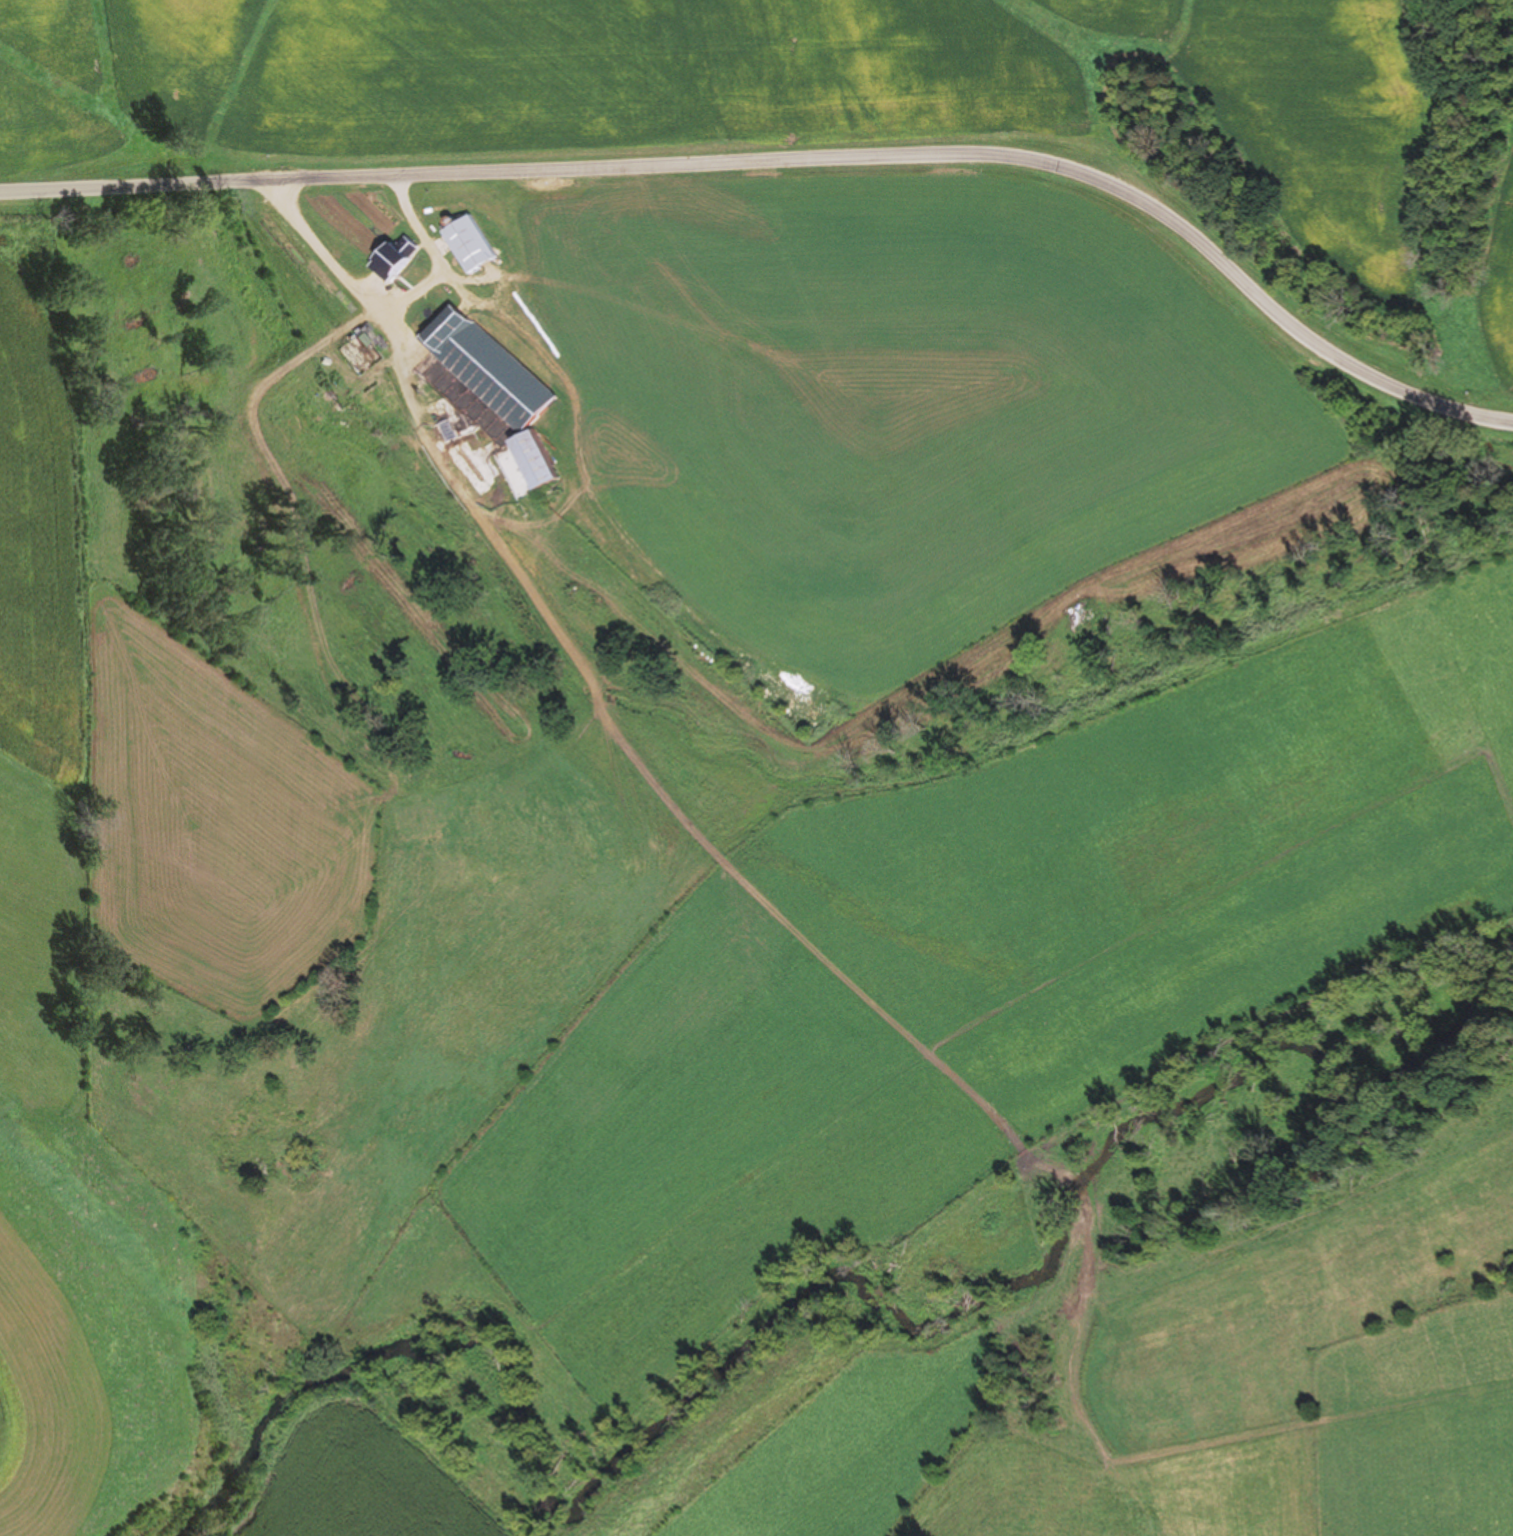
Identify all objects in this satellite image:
road: (793, 157)
building: (389, 244)
building: (472, 245)
building: (465, 413)
building: (539, 460)

